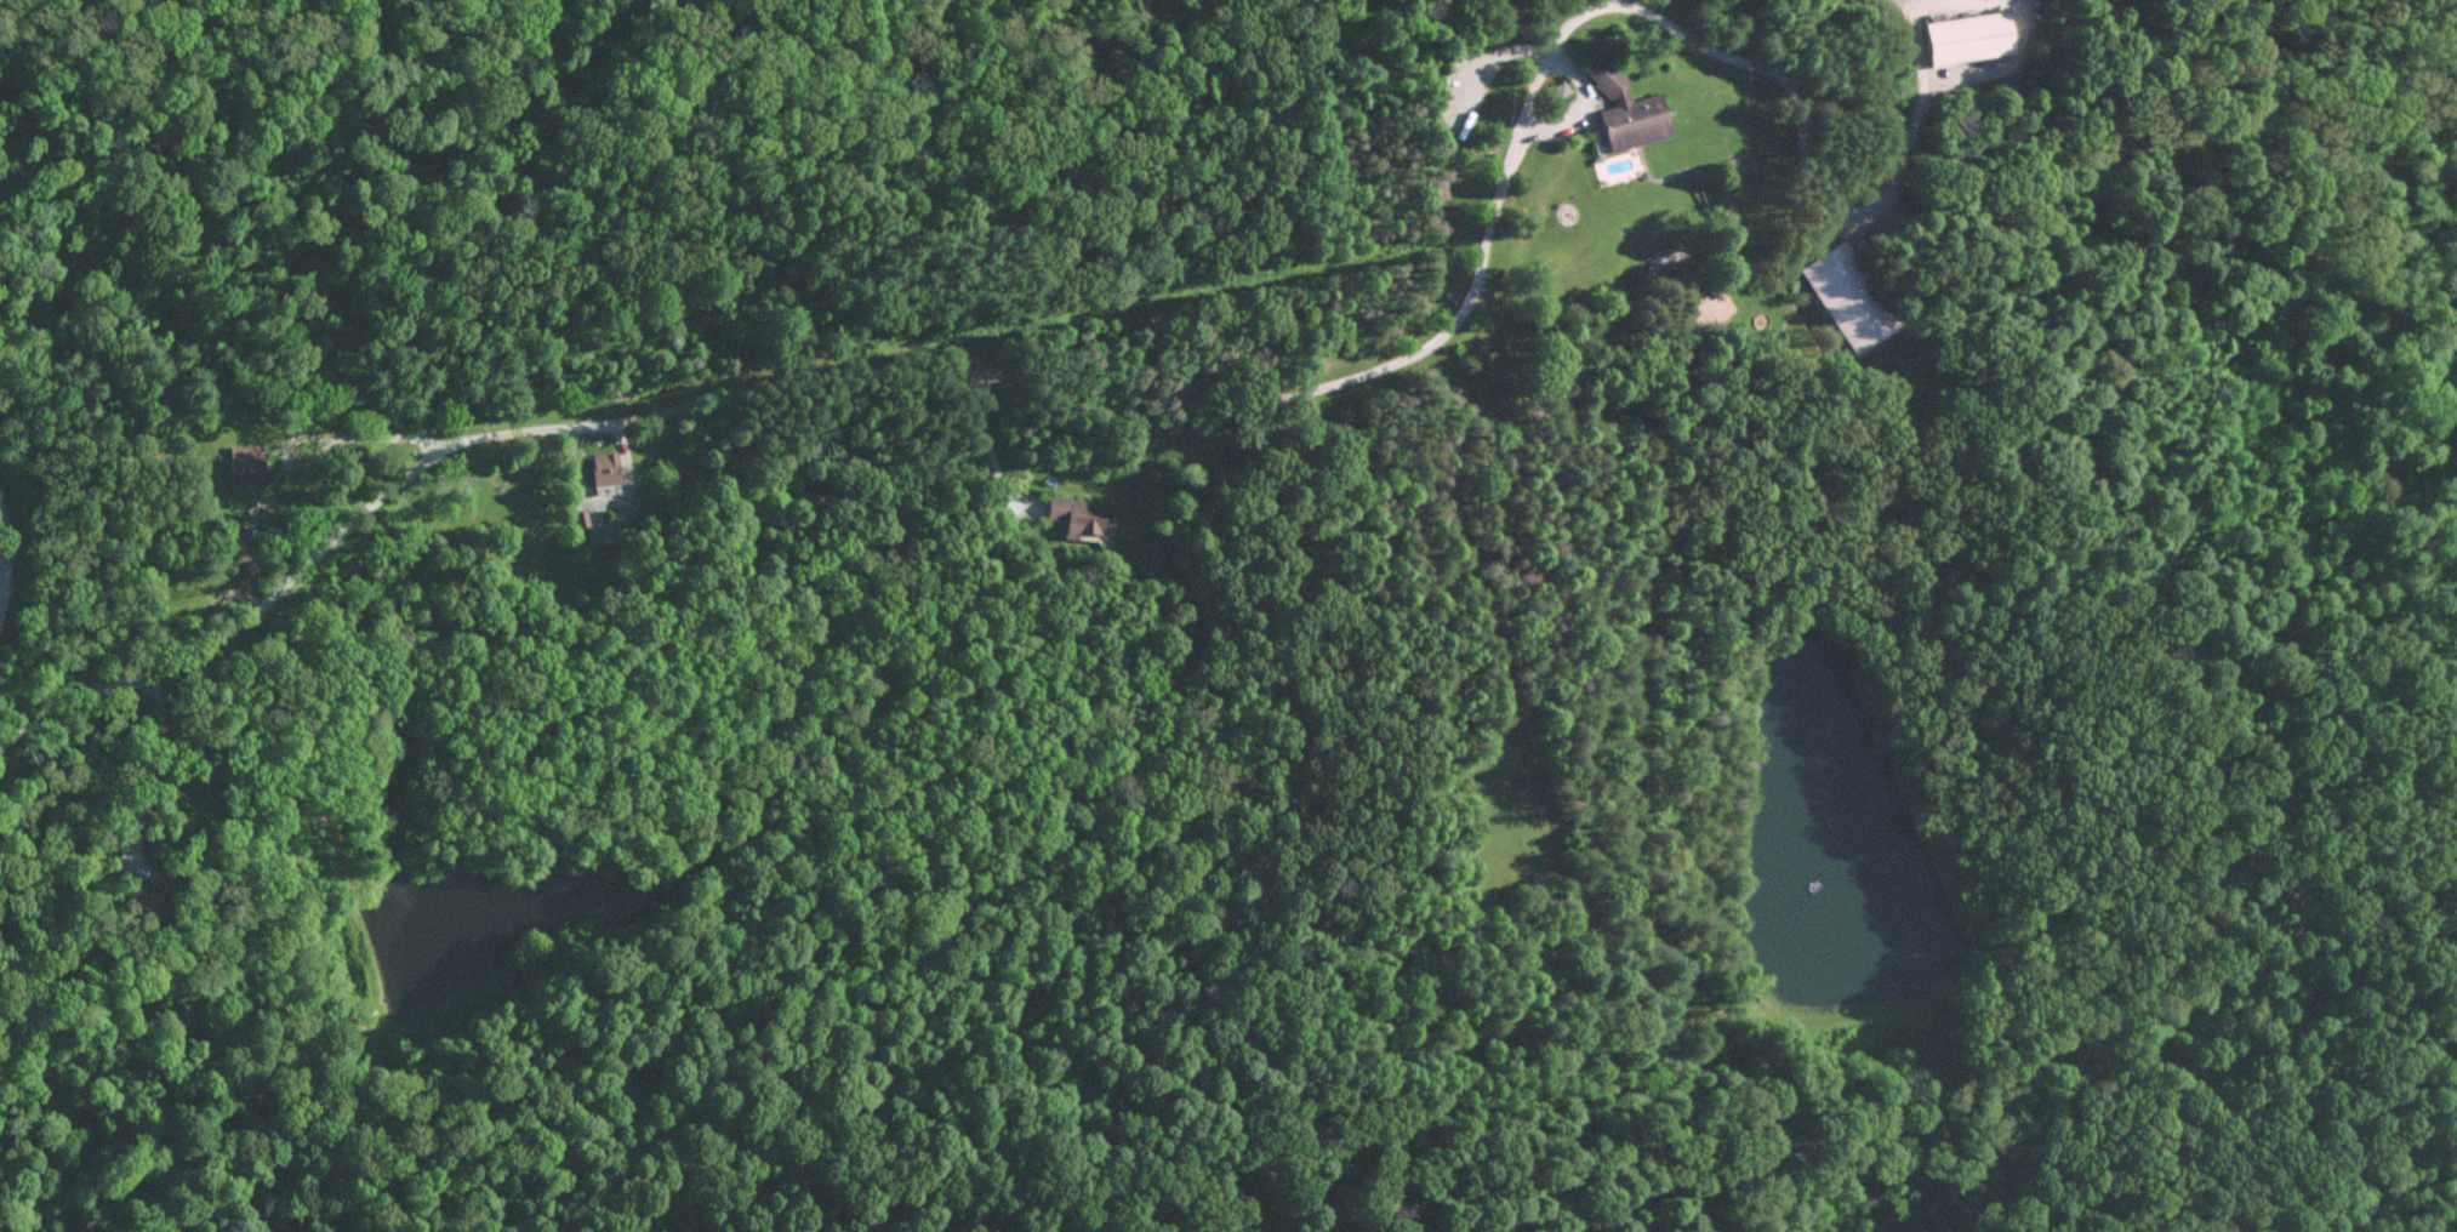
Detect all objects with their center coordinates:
road: (1916, 13)
building: (1960, 36)
road: (2010, 67)
road: (1792, 92)
building: (1619, 110)
building: (1840, 298)
road: (827, 372)
road: (371, 434)
building: (246, 467)
building: (608, 467)
building: (1083, 514)
road: (7, 560)
building: (249, 571)

